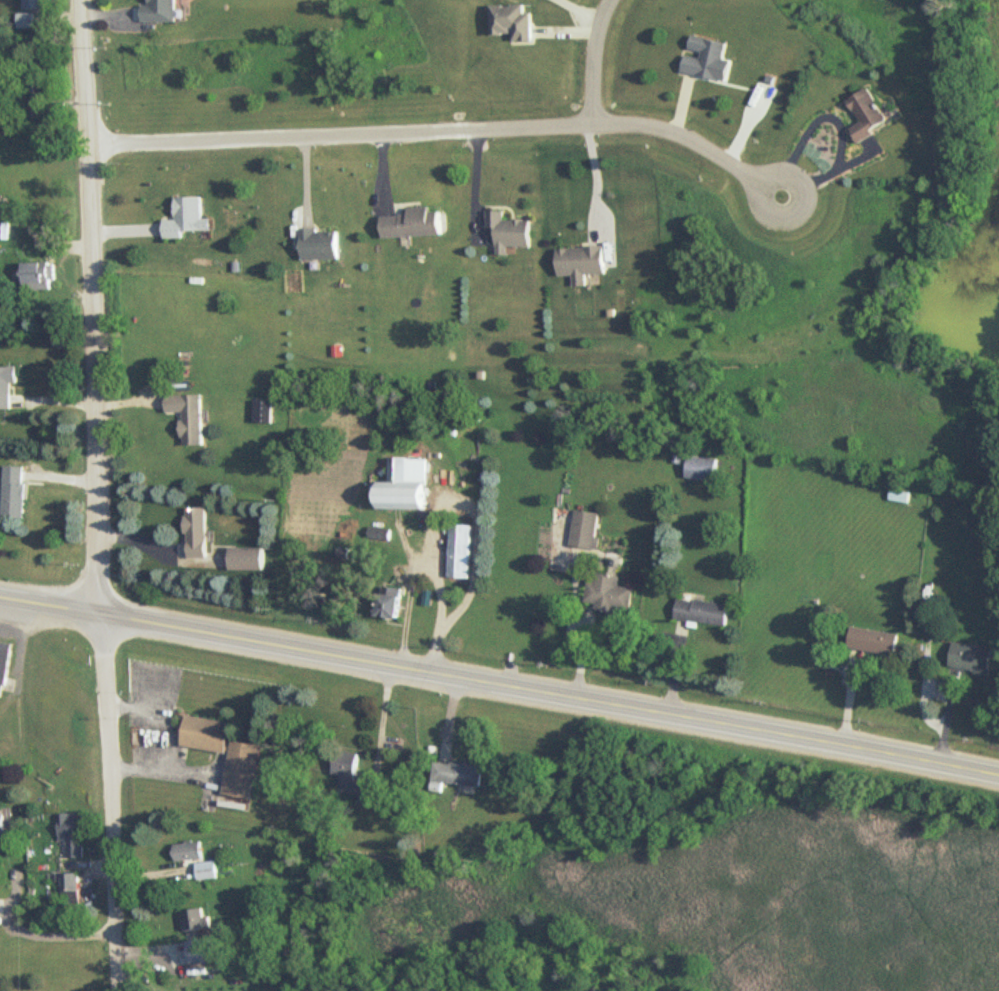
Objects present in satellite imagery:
building: (34, 4)
building: (164, 11)
road: (577, 11)
building: (26, 21)
building: (513, 22)
building: (707, 57)
road: (594, 59)
building: (30, 83)
building: (870, 114)
road: (812, 124)
road: (443, 129)
road: (831, 170)
road: (596, 177)
building: (188, 219)
building: (415, 224)
building: (513, 232)
building: (321, 244)
building: (583, 264)
building: (40, 276)
road: (89, 277)
building: (7, 386)
building: (264, 411)
building: (189, 416)
building: (703, 469)
building: (408, 485)
building: (14, 492)
building: (901, 497)
road: (445, 508)
building: (587, 529)
building: (198, 533)
building: (380, 535)
building: (344, 557)
building: (250, 559)
building: (458, 568)
road: (99, 583)
building: (610, 594)
building: (395, 604)
building: (704, 612)
road: (102, 631)
building: (875, 642)
building: (973, 659)
building: (4, 669)
road: (499, 680)
parking lot: (152, 693)
road: (149, 734)
building: (208, 734)
parking lot: (154, 753)
building: (244, 768)
road: (189, 772)
building: (352, 774)
building: (460, 774)
parking lot: (213, 779)
road: (211, 789)
road: (112, 821)
building: (2, 822)
building: (72, 836)
building: (191, 852)
building: (209, 871)
building: (71, 890)
building: (198, 920)
road: (35, 938)

